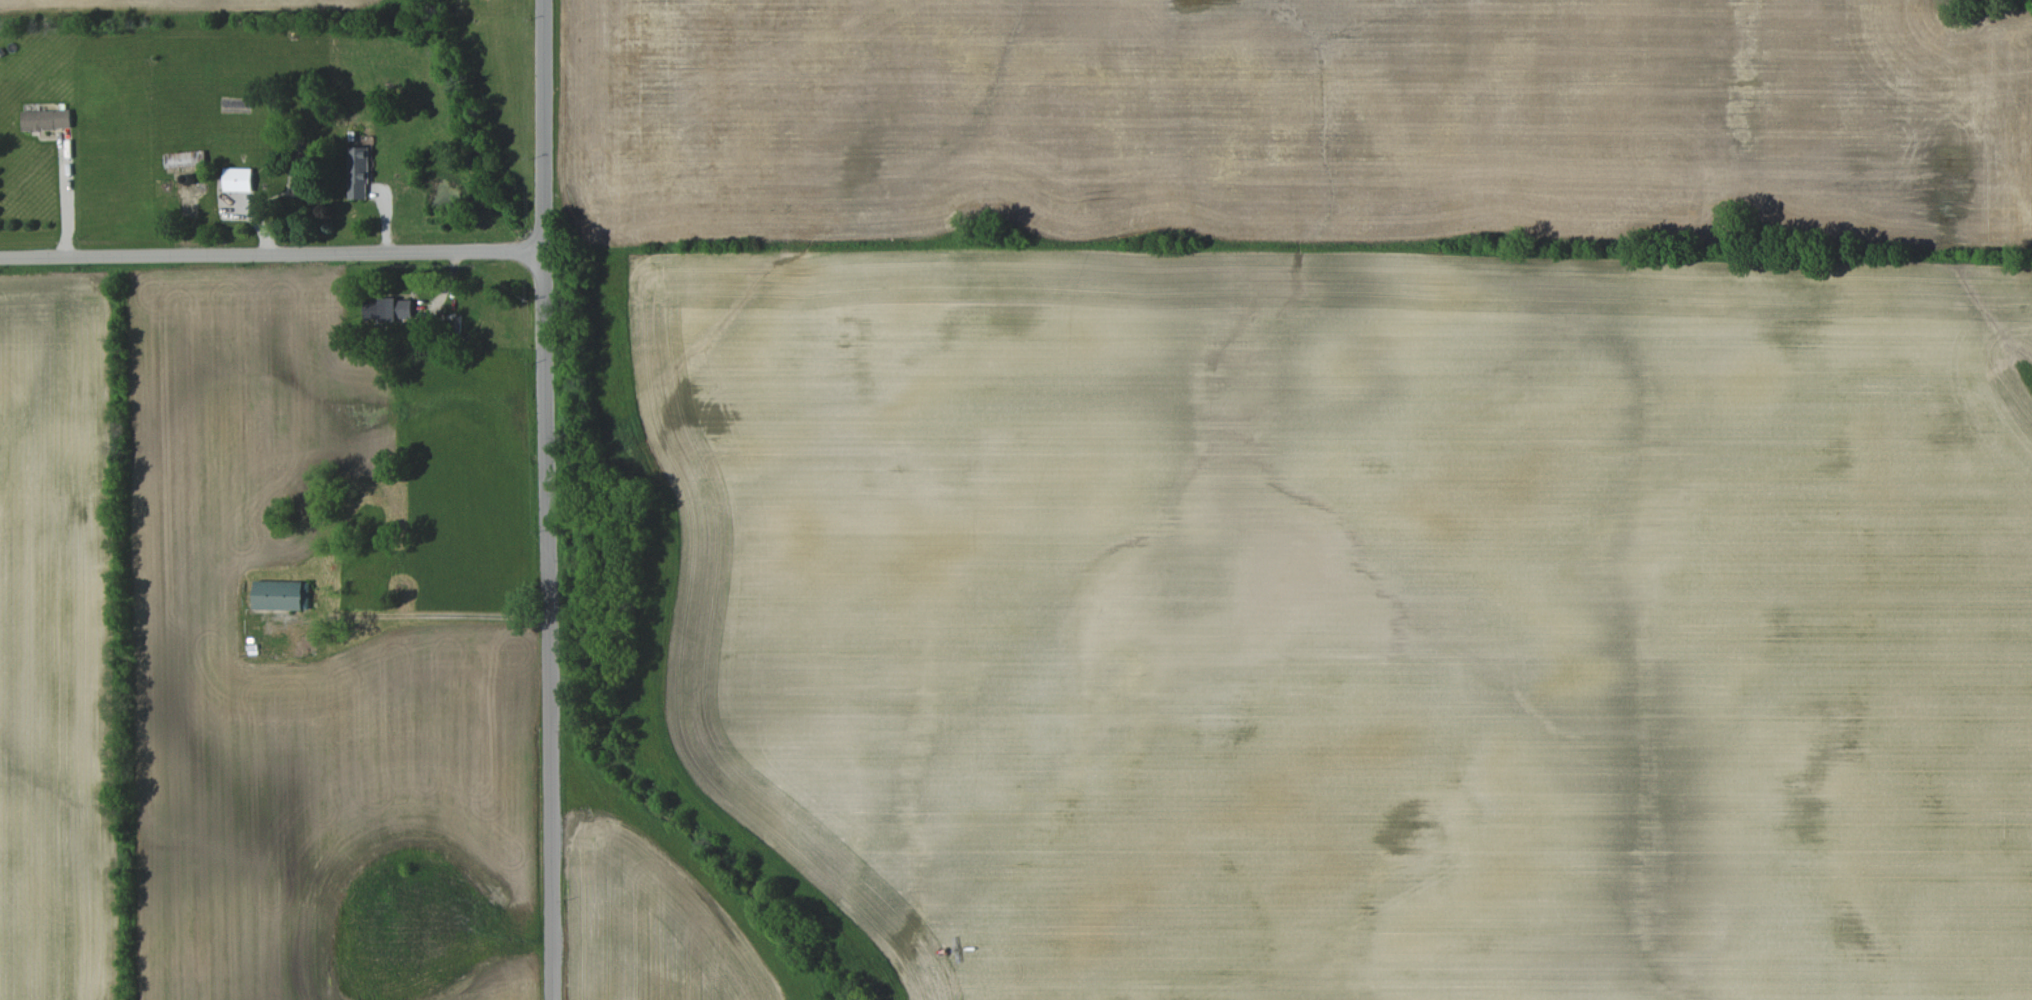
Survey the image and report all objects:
building: (46, 119)
road: (544, 125)
building: (358, 172)
building: (238, 179)
road: (66, 202)
road: (272, 254)
building: (388, 309)
building: (282, 595)
road: (450, 617)
road: (562, 624)

